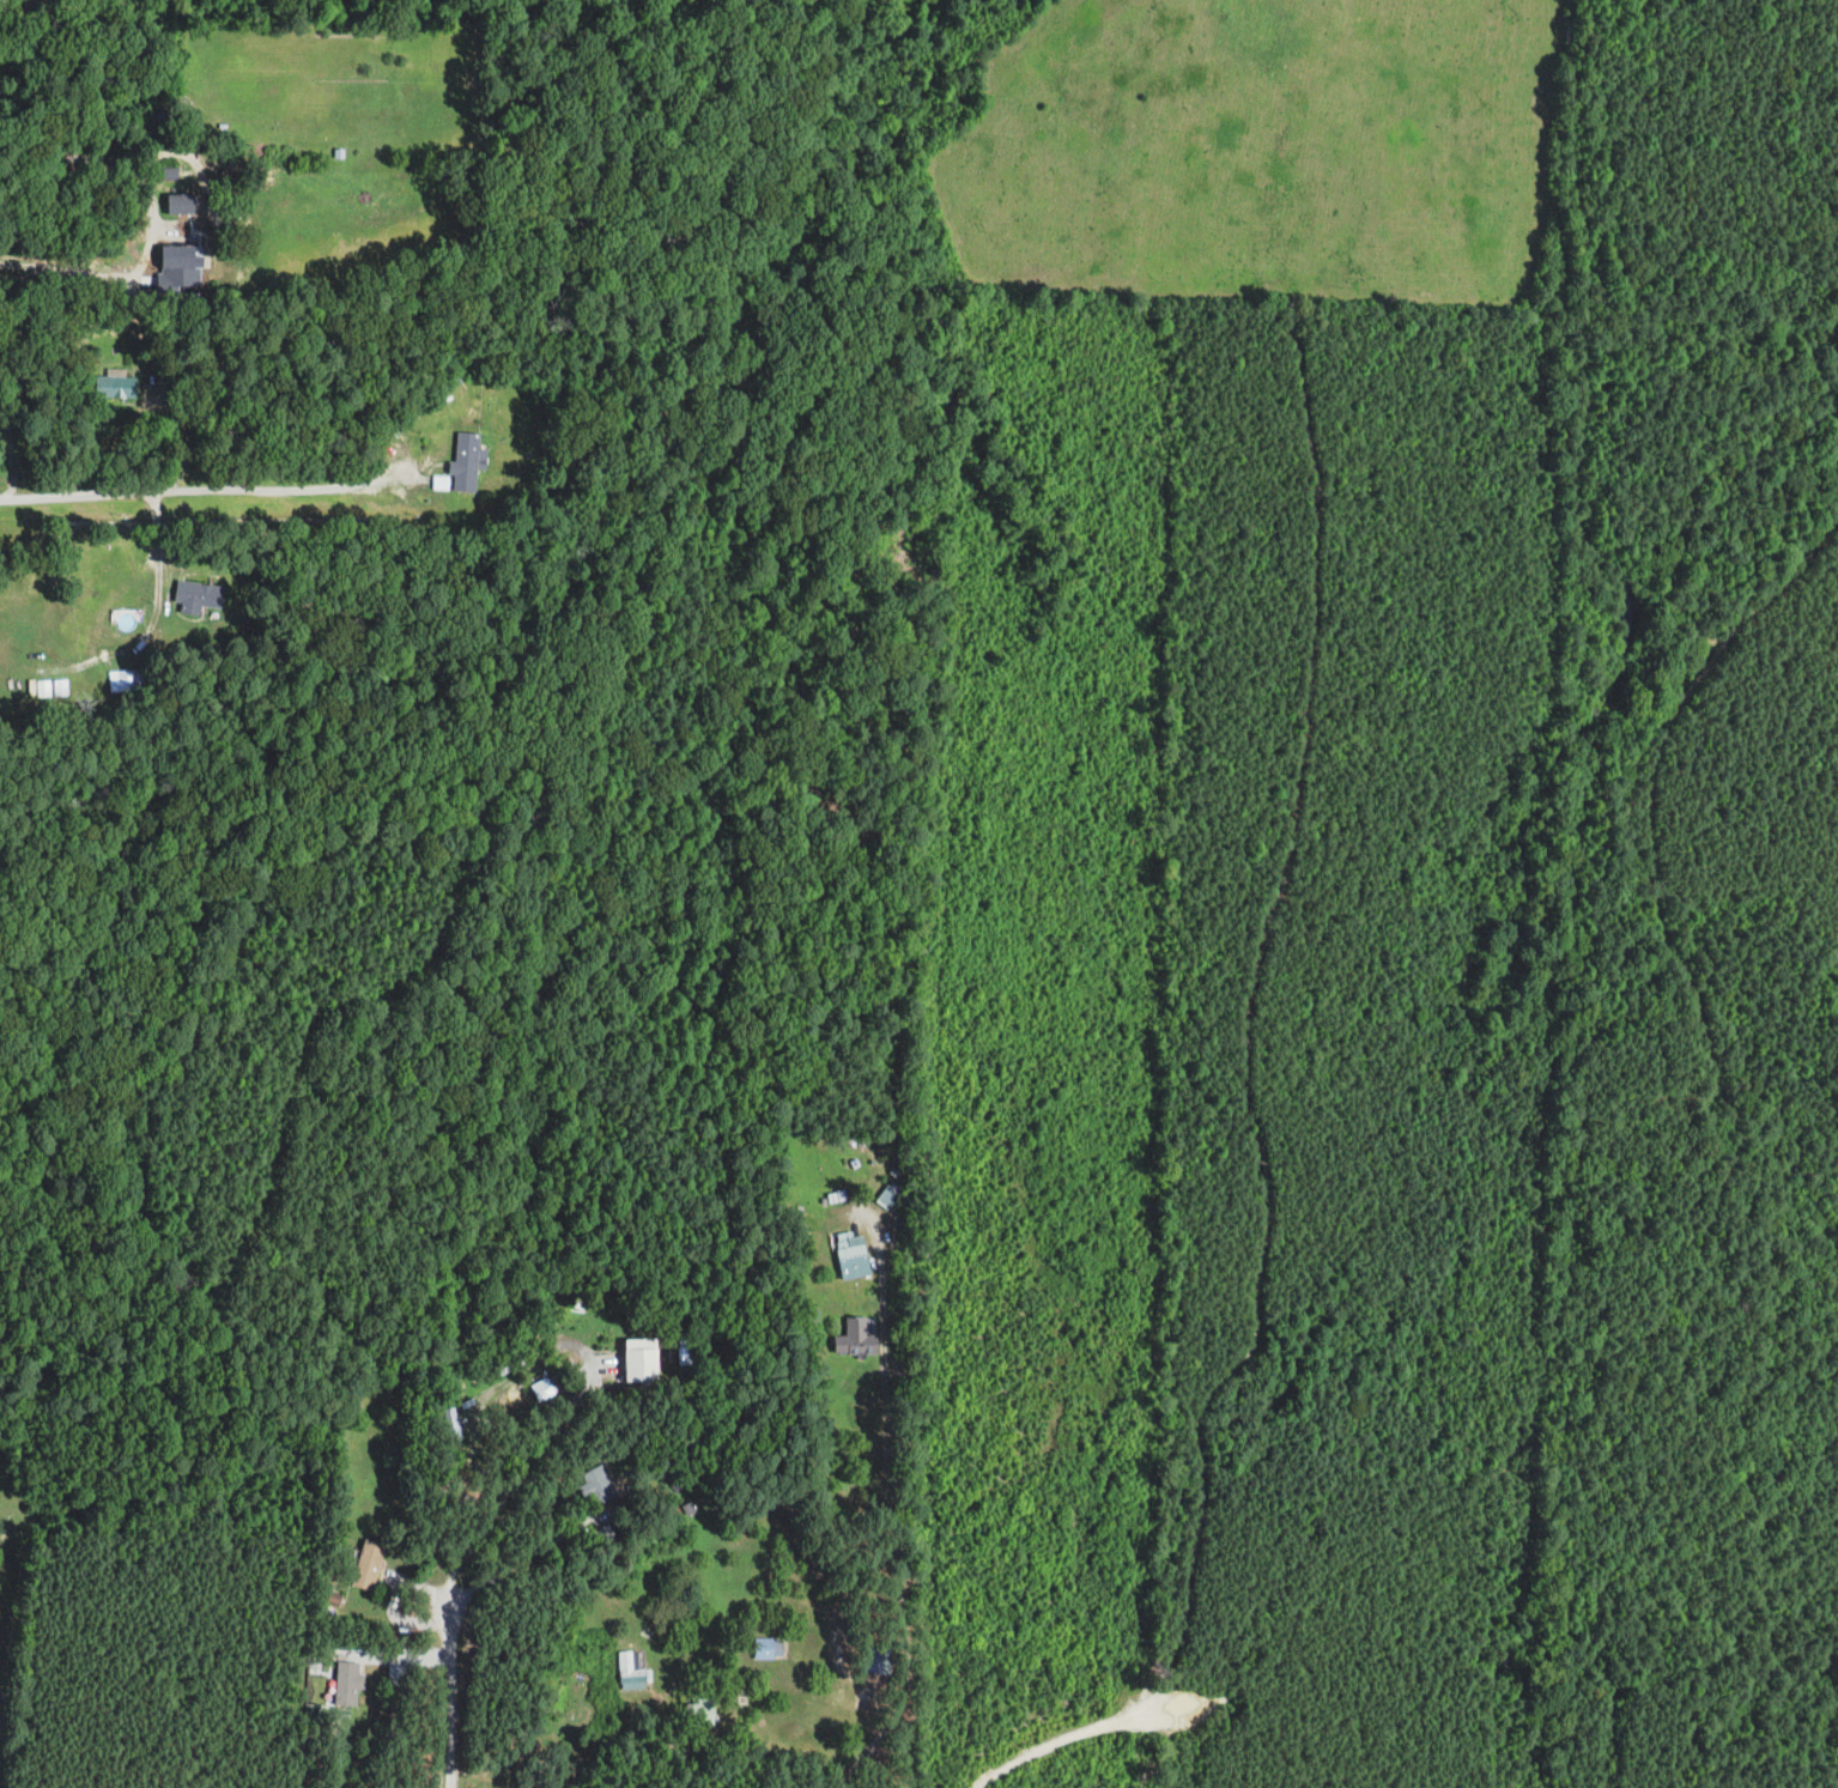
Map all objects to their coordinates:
building: (181, 204)
road: (217, 223)
building: (177, 255)
building: (116, 386)
building: (467, 462)
road: (213, 490)
building: (198, 595)
building: (122, 680)
road: (1244, 1016)
building: (887, 1196)
building: (853, 1255)
building: (856, 1339)
building: (641, 1360)
road: (587, 1380)
building: (546, 1387)
building: (595, 1486)
road: (1414, 1528)
building: (368, 1565)
road: (1500, 1620)
building: (768, 1648)
building: (868, 1657)
building: (880, 1659)
building: (631, 1671)
road: (832, 1673)
building: (348, 1681)
road: (449, 1695)
building: (703, 1713)
road: (1068, 1735)
road: (872, 1740)

